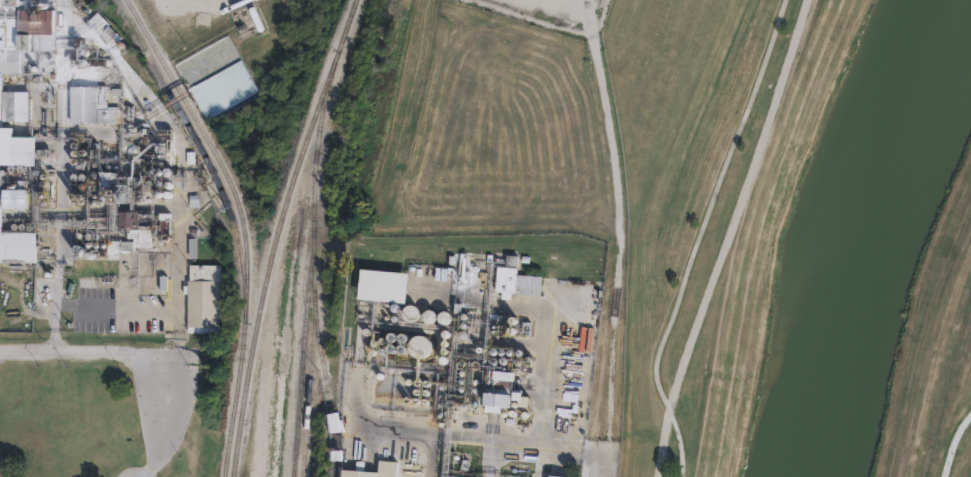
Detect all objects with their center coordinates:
railway: (343, 30)
building: (90, 105)
building: (13, 106)
railway: (212, 173)
building: (113, 188)
building: (15, 199)
railway: (241, 224)
building: (130, 234)
road: (698, 236)
river: (861, 236)
building: (17, 247)
road: (618, 256)
railway: (266, 265)
railway: (309, 268)
building: (516, 279)
building: (379, 281)
building: (202, 296)
railway: (298, 307)
building: (380, 331)
road: (91, 348)
road: (181, 351)
railway: (310, 363)
building: (486, 379)
building: (514, 385)
building: (506, 393)
railway: (328, 394)
building: (507, 411)
building: (336, 422)
road: (531, 442)
road: (953, 442)
building: (385, 465)
road: (965, 470)
building: (552, 476)

